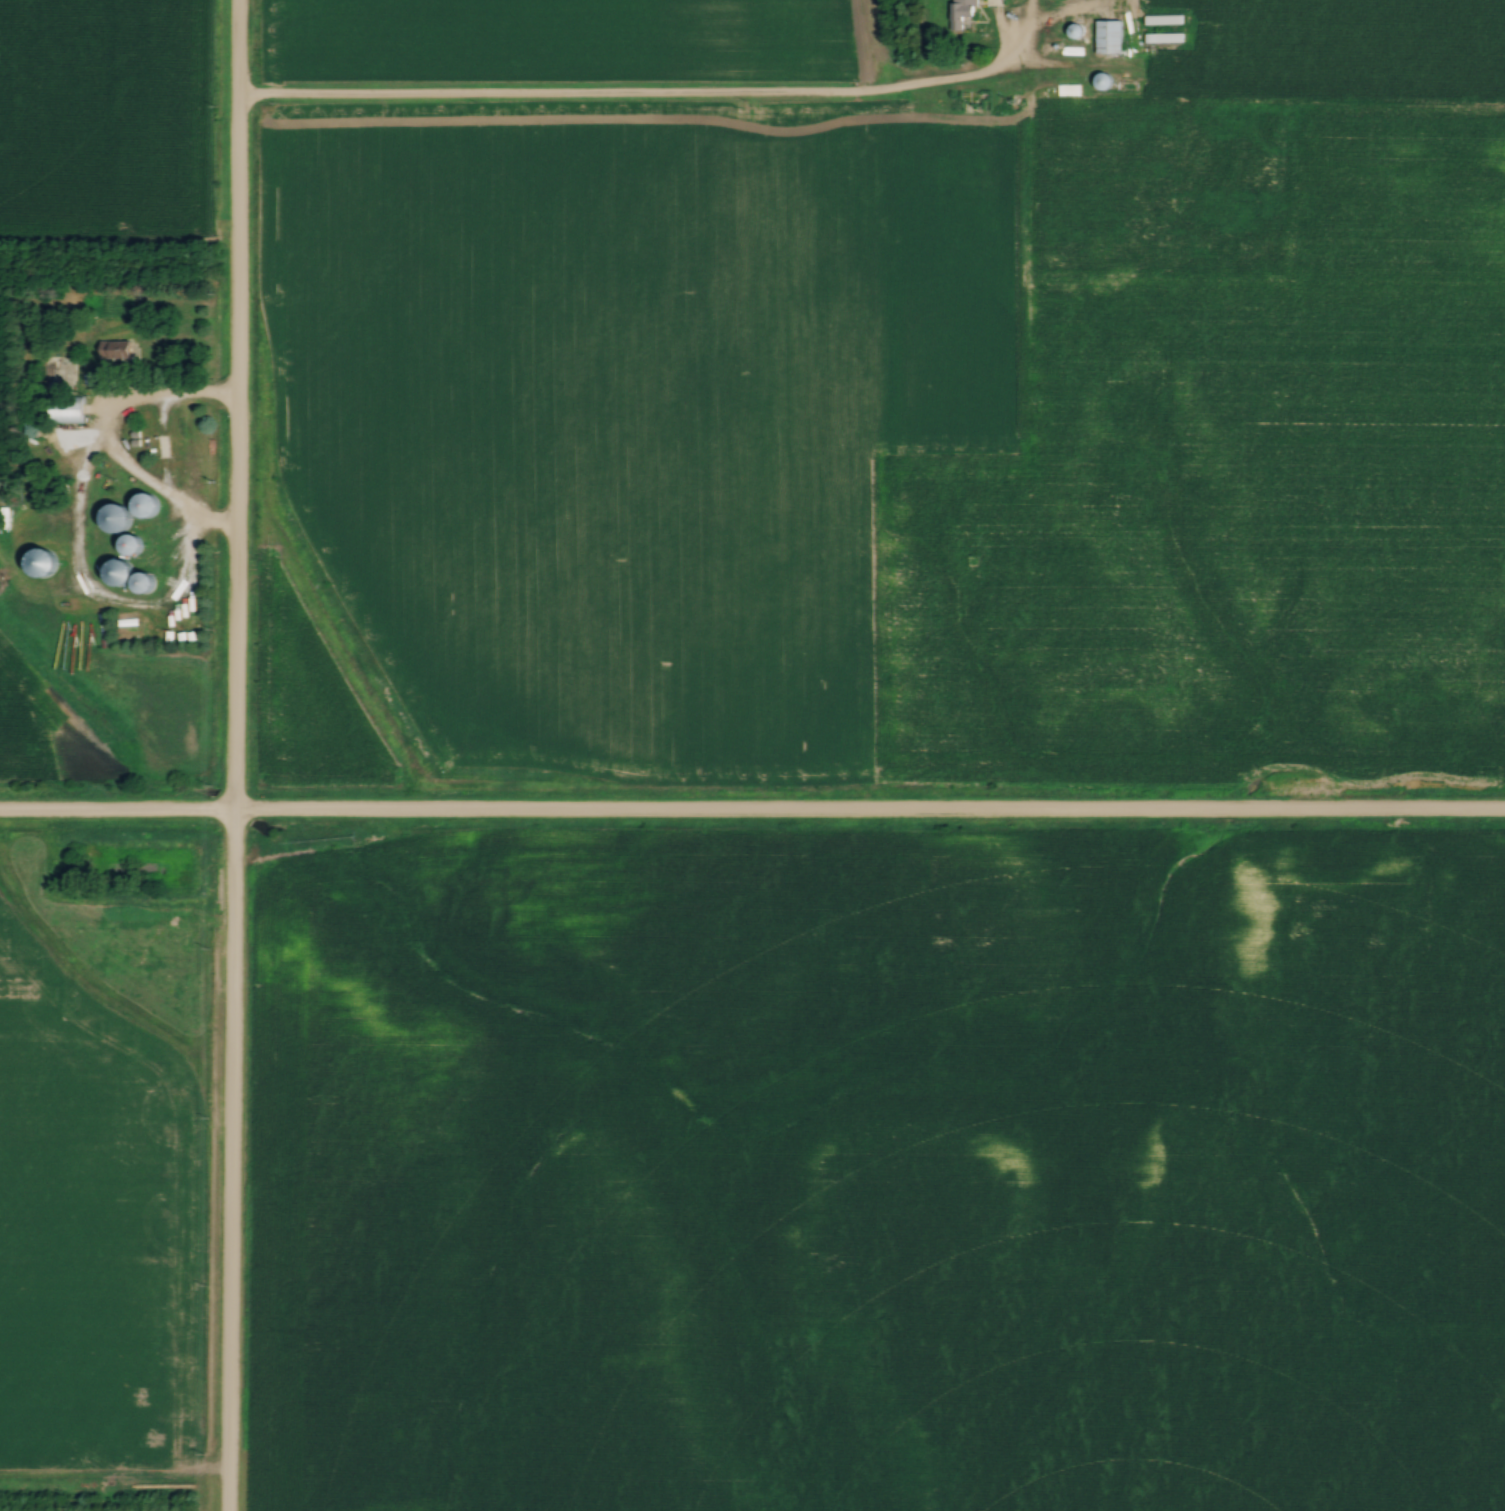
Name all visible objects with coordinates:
building: (964, 13)
building: (1163, 19)
building: (1077, 31)
building: (1111, 37)
building: (1164, 38)
building: (1161, 57)
building: (1102, 81)
building: (1128, 87)
road: (635, 100)
building: (118, 351)
building: (57, 373)
building: (67, 409)
road: (100, 445)
building: (141, 506)
building: (115, 518)
building: (129, 544)
building: (41, 563)
building: (118, 572)
building: (143, 582)
road: (232, 755)
road: (752, 816)

